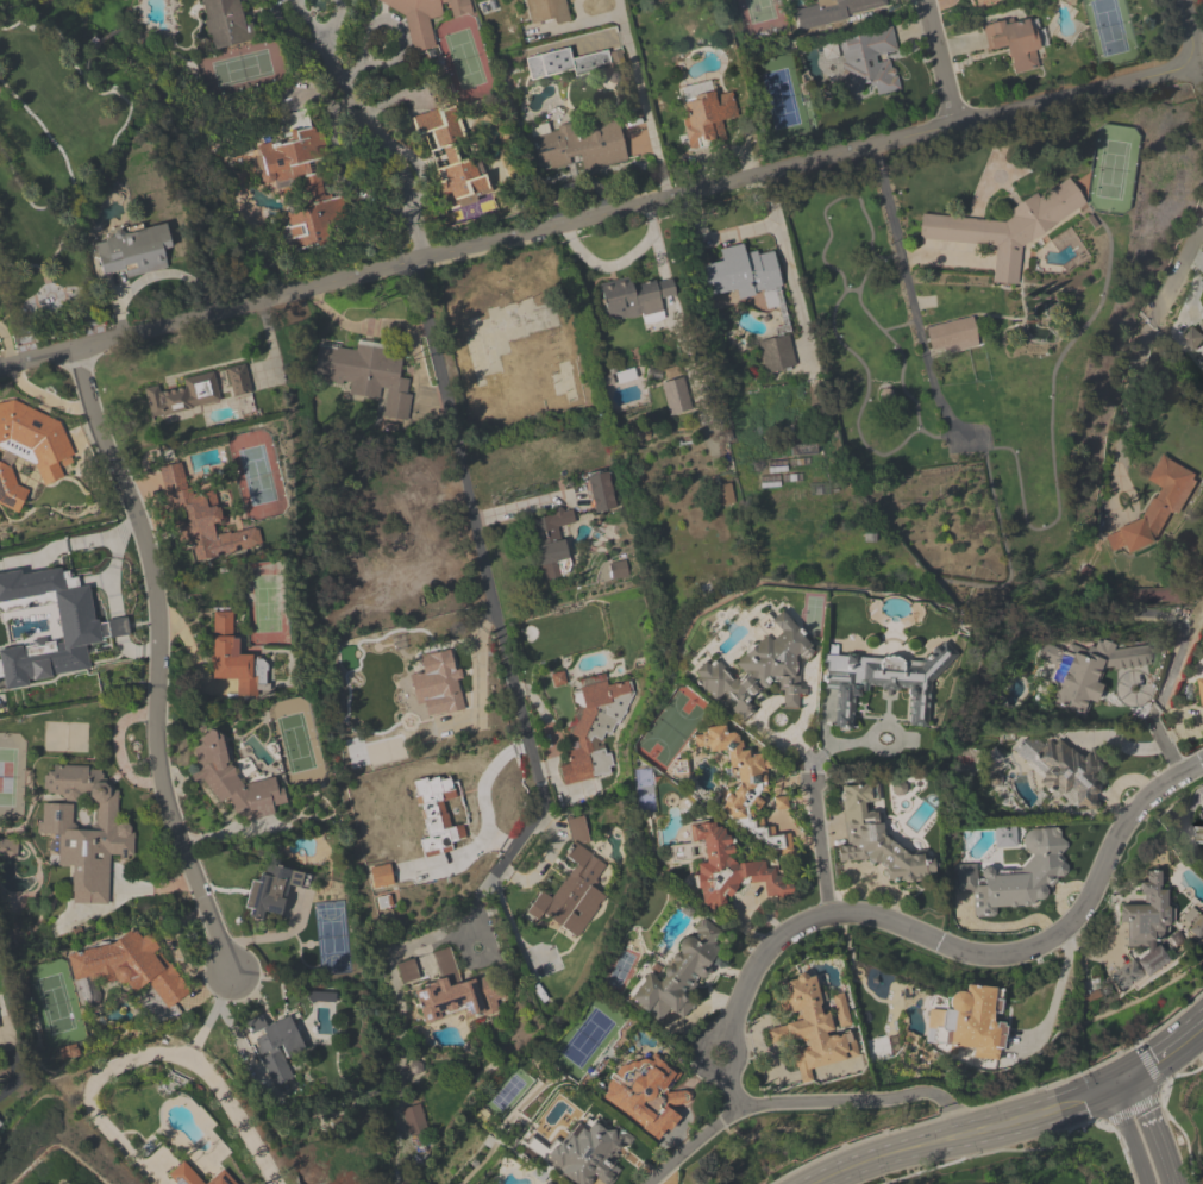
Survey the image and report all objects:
building: (984, 2)
building: (547, 11)
building: (835, 12)
building: (425, 17)
building: (226, 24)
road: (1196, 27)
road: (1191, 31)
building: (1015, 43)
road: (941, 61)
building: (566, 63)
building: (869, 67)
road: (1201, 73)
building: (706, 114)
road: (369, 132)
building: (590, 144)
building: (453, 158)
building: (125, 164)
building: (303, 181)
road: (599, 214)
building: (1007, 228)
building: (132, 253)
road: (900, 257)
road: (618, 263)
building: (740, 274)
building: (634, 300)
building: (509, 327)
road: (1145, 333)
building: (952, 334)
building: (1196, 337)
building: (362, 370)
building: (238, 381)
building: (184, 395)
building: (676, 396)
building: (35, 439)
building: (11, 489)
building: (602, 494)
building: (1159, 505)
road: (526, 508)
building: (202, 520)
building: (551, 544)
road: (489, 587)
building: (80, 627)
building: (230, 657)
road: (159, 662)
building: (762, 669)
building: (445, 679)
building: (1072, 681)
building: (885, 682)
building: (1202, 687)
building: (595, 728)
road: (1161, 743)
building: (1071, 772)
building: (234, 783)
building: (741, 783)
building: (438, 814)
building: (86, 832)
building: (1202, 833)
road: (823, 840)
building: (877, 840)
building: (6, 848)
building: (725, 867)
building: (1016, 876)
building: (271, 890)
building: (574, 890)
building: (1147, 915)
road: (936, 939)
building: (126, 971)
building: (679, 975)
building: (1128, 975)
building: (460, 992)
road: (1057, 995)
building: (976, 1023)
building: (809, 1028)
building: (276, 1047)
road: (1172, 1051)
traffic signals: (1140, 1076)
road: (209, 1083)
traffic signals: (1108, 1090)
building: (643, 1095)
road: (783, 1102)
road: (952, 1119)
building: (0, 1126)
road: (1157, 1129)
road: (977, 1130)
road: (1128, 1136)
building: (588, 1154)
building: (183, 1174)
building: (219, 1179)
building: (545, 1183)

